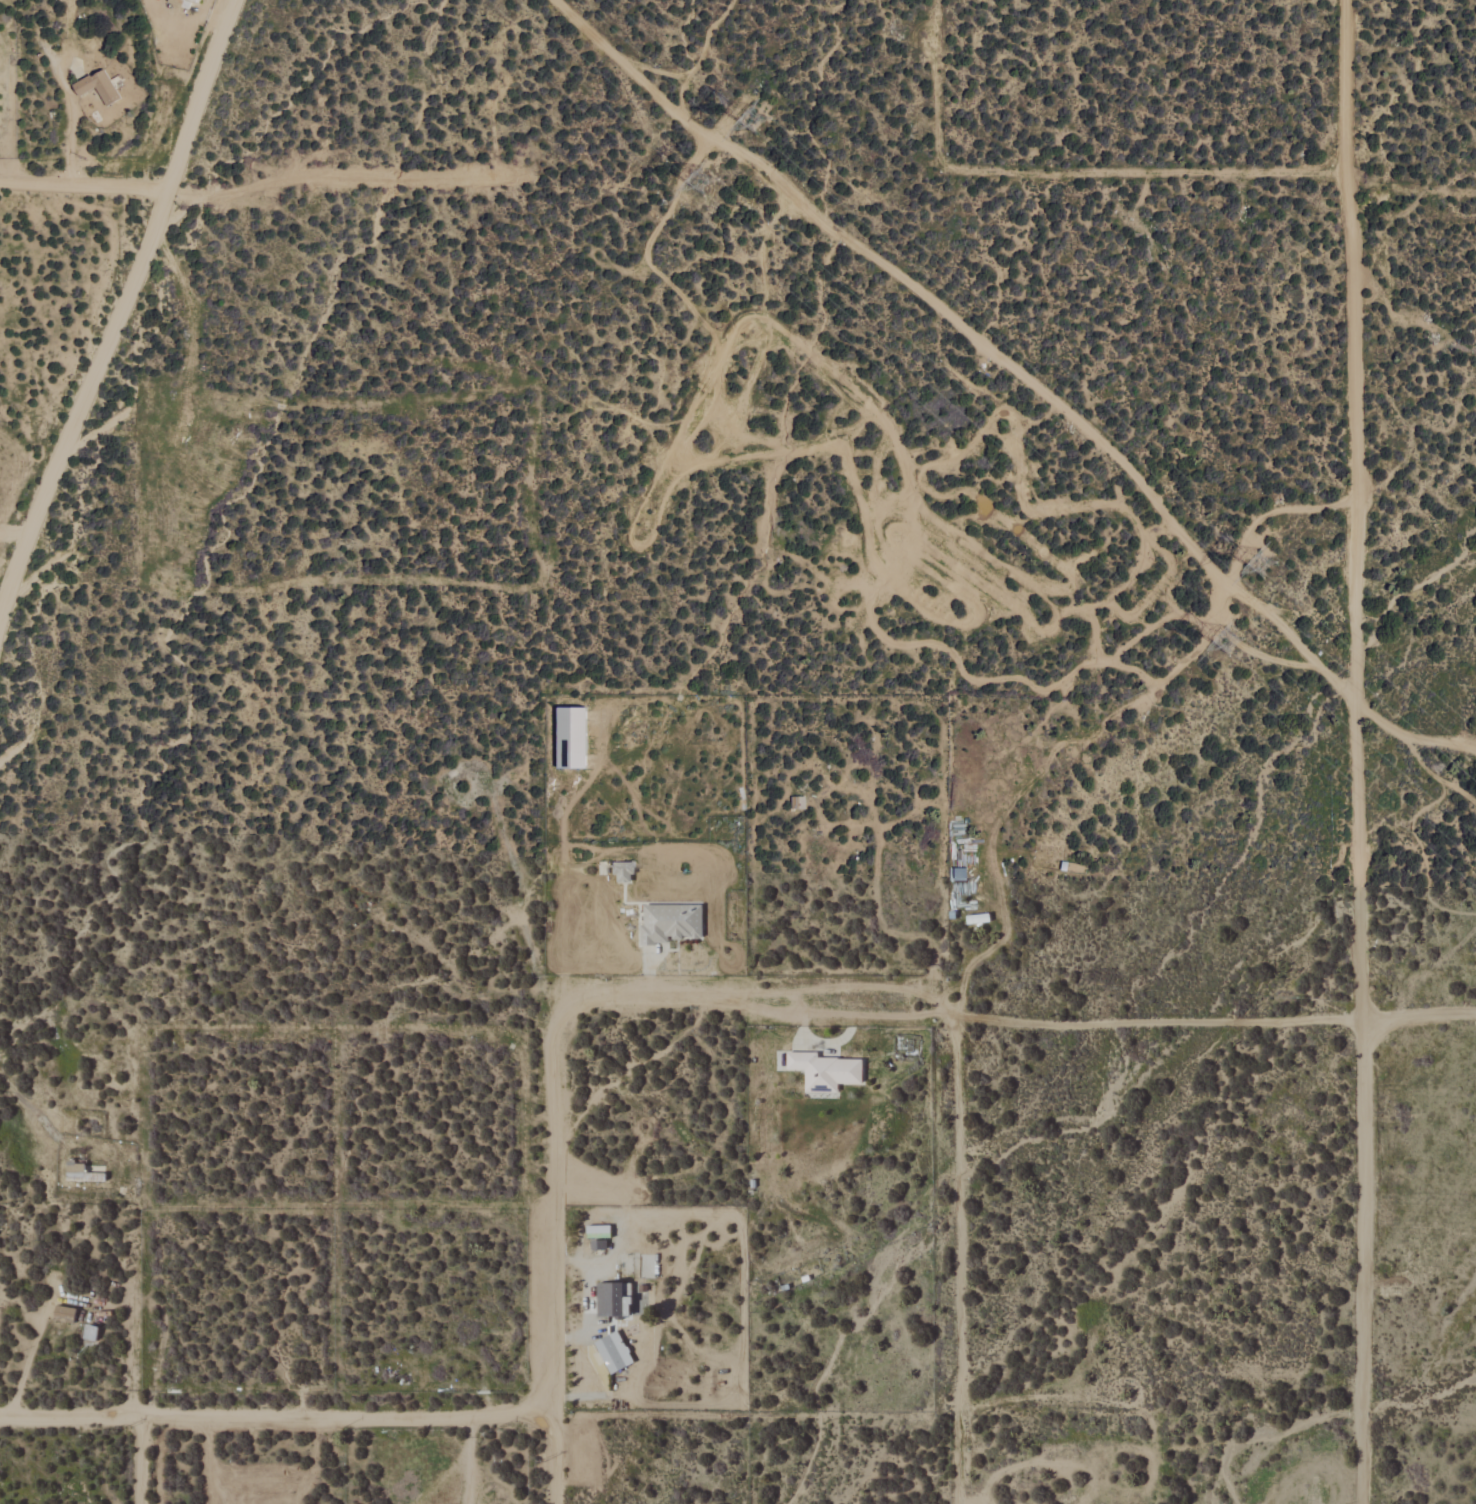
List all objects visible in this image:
building: (192, 1)
building: (96, 87)
power tower: (752, 109)
power tower: (699, 184)
road: (87, 185)
road: (122, 303)
road: (1020, 377)
road: (11, 533)
power tower: (1252, 559)
power tower: (1227, 643)
building: (570, 733)
road: (1361, 751)
building: (658, 925)
road: (1022, 1018)
building: (823, 1071)
road: (25, 1105)
road: (556, 1249)
road: (958, 1261)
building: (611, 1300)
road: (589, 1312)
building: (88, 1333)
building: (612, 1352)
road: (25, 1367)
road: (349, 1414)
road: (69, 1416)
road: (467, 1458)
road: (140, 1460)

